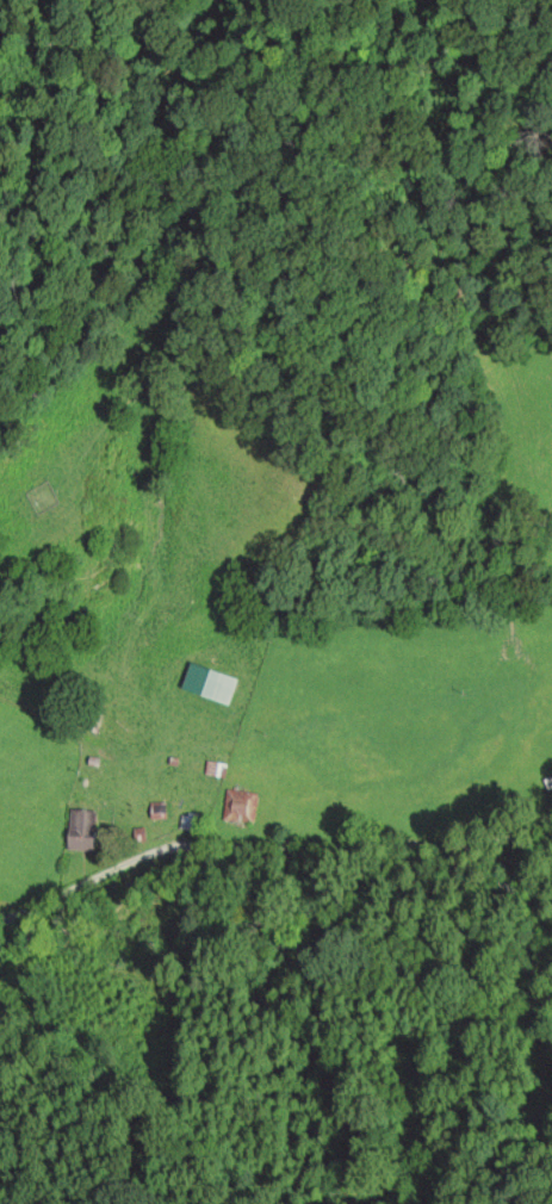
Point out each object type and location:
building: (212, 685)
building: (241, 808)
building: (83, 831)
road: (291, 856)
road: (27, 911)
road: (6, 919)

